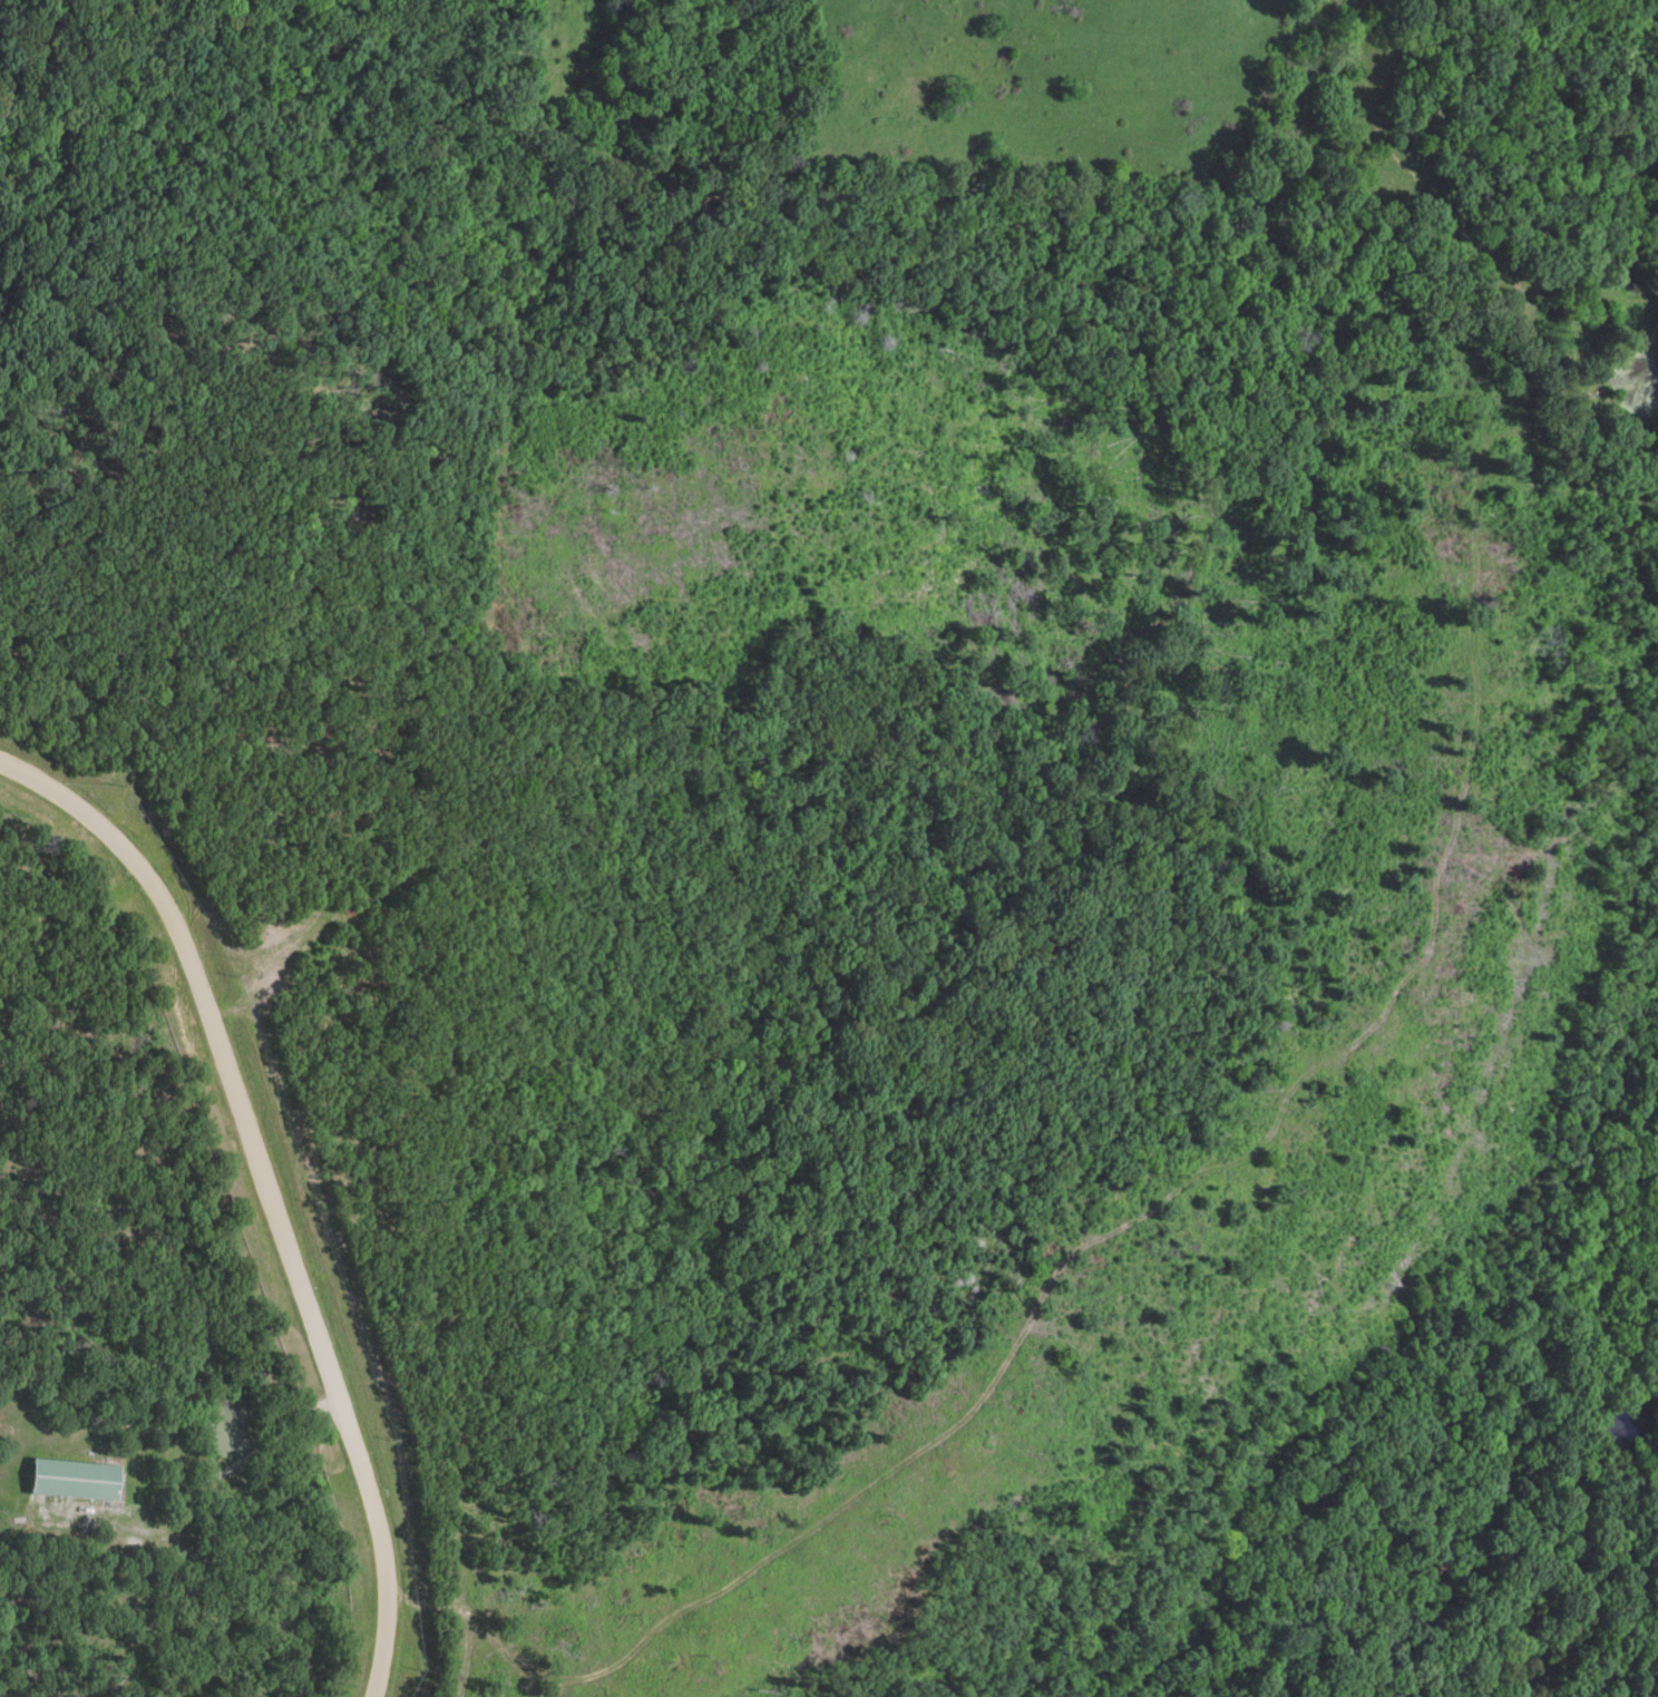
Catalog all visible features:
road: (314, 987)
road: (270, 1190)
road: (238, 1463)
building: (82, 1480)

